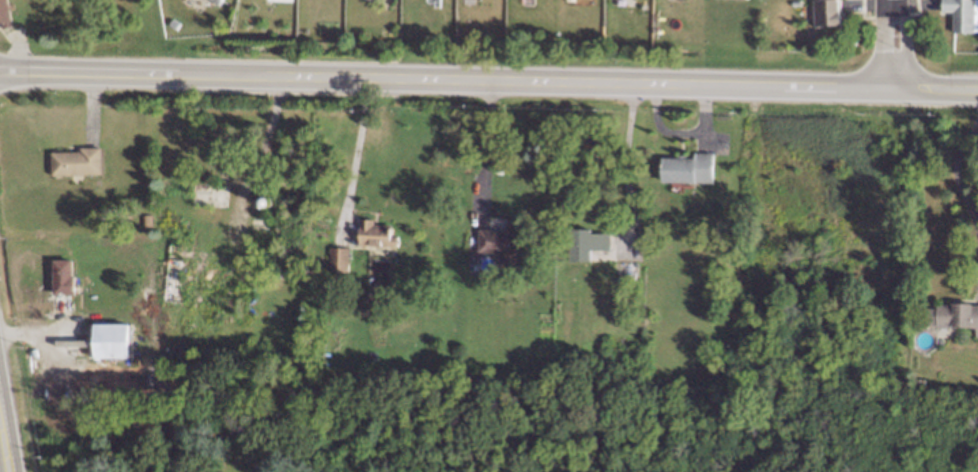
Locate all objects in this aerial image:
building: (438, 0)
building: (218, 1)
building: (828, 12)
building: (5, 14)
building: (963, 14)
road: (894, 45)
road: (316, 78)
road: (805, 89)
road: (485, 145)
road: (964, 154)
road: (355, 155)
road: (625, 158)
building: (76, 161)
building: (688, 167)
building: (376, 233)
building: (502, 242)
building: (587, 242)
building: (338, 258)
building: (63, 276)
building: (957, 315)
building: (111, 339)
road: (5, 437)
road: (3, 446)

